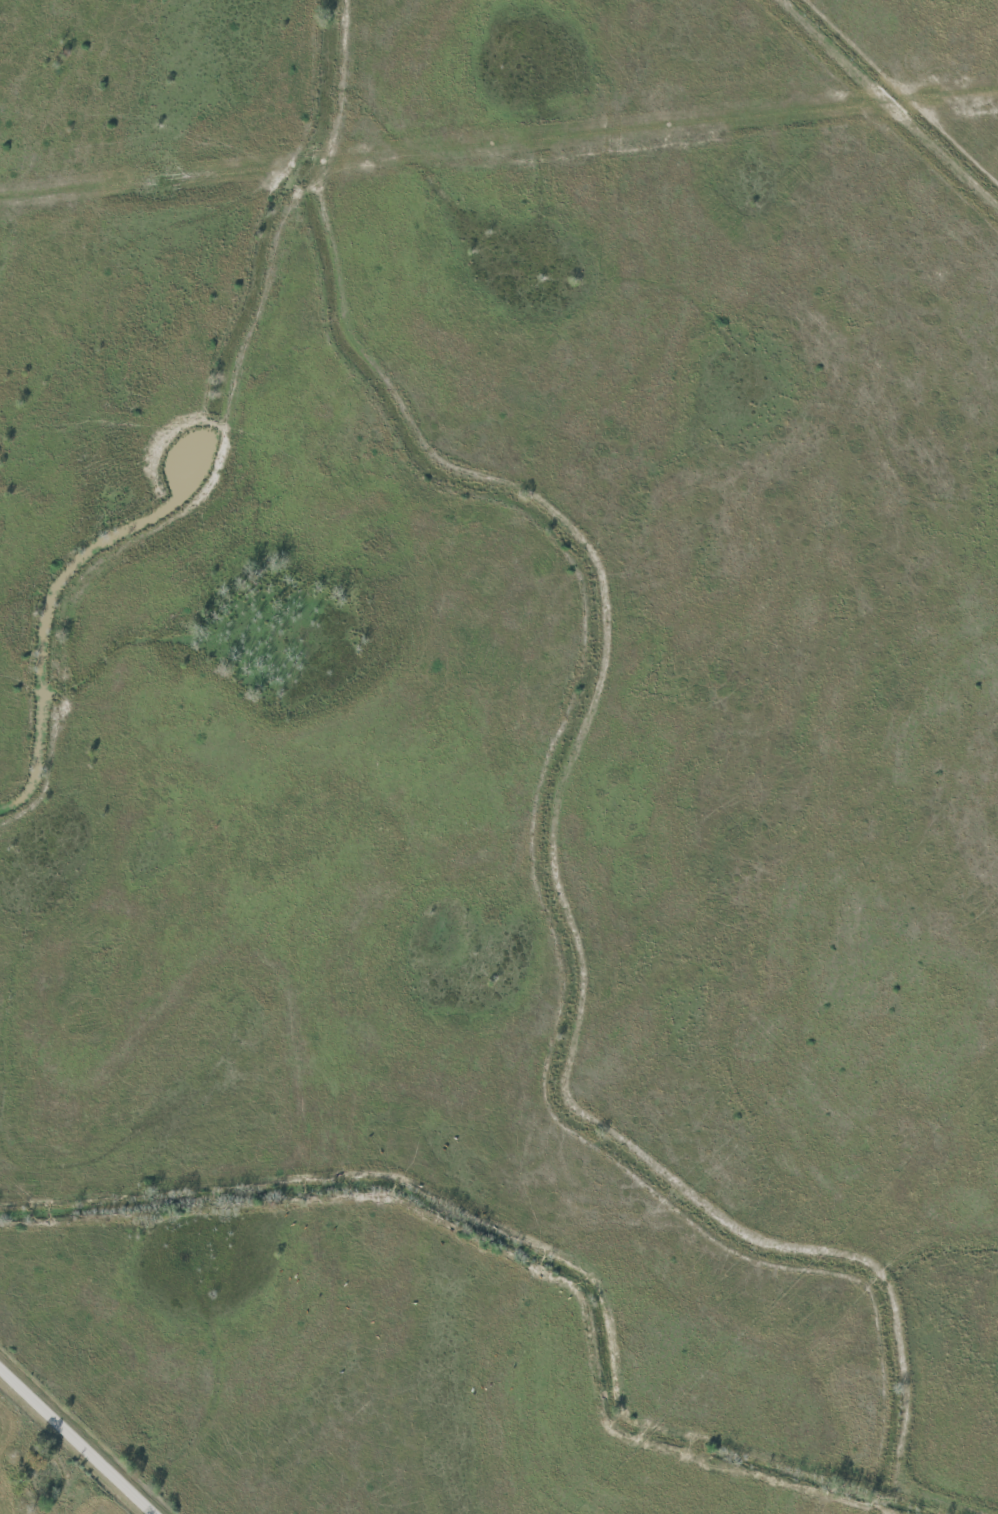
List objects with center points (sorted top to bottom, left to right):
road: (79, 1438)

